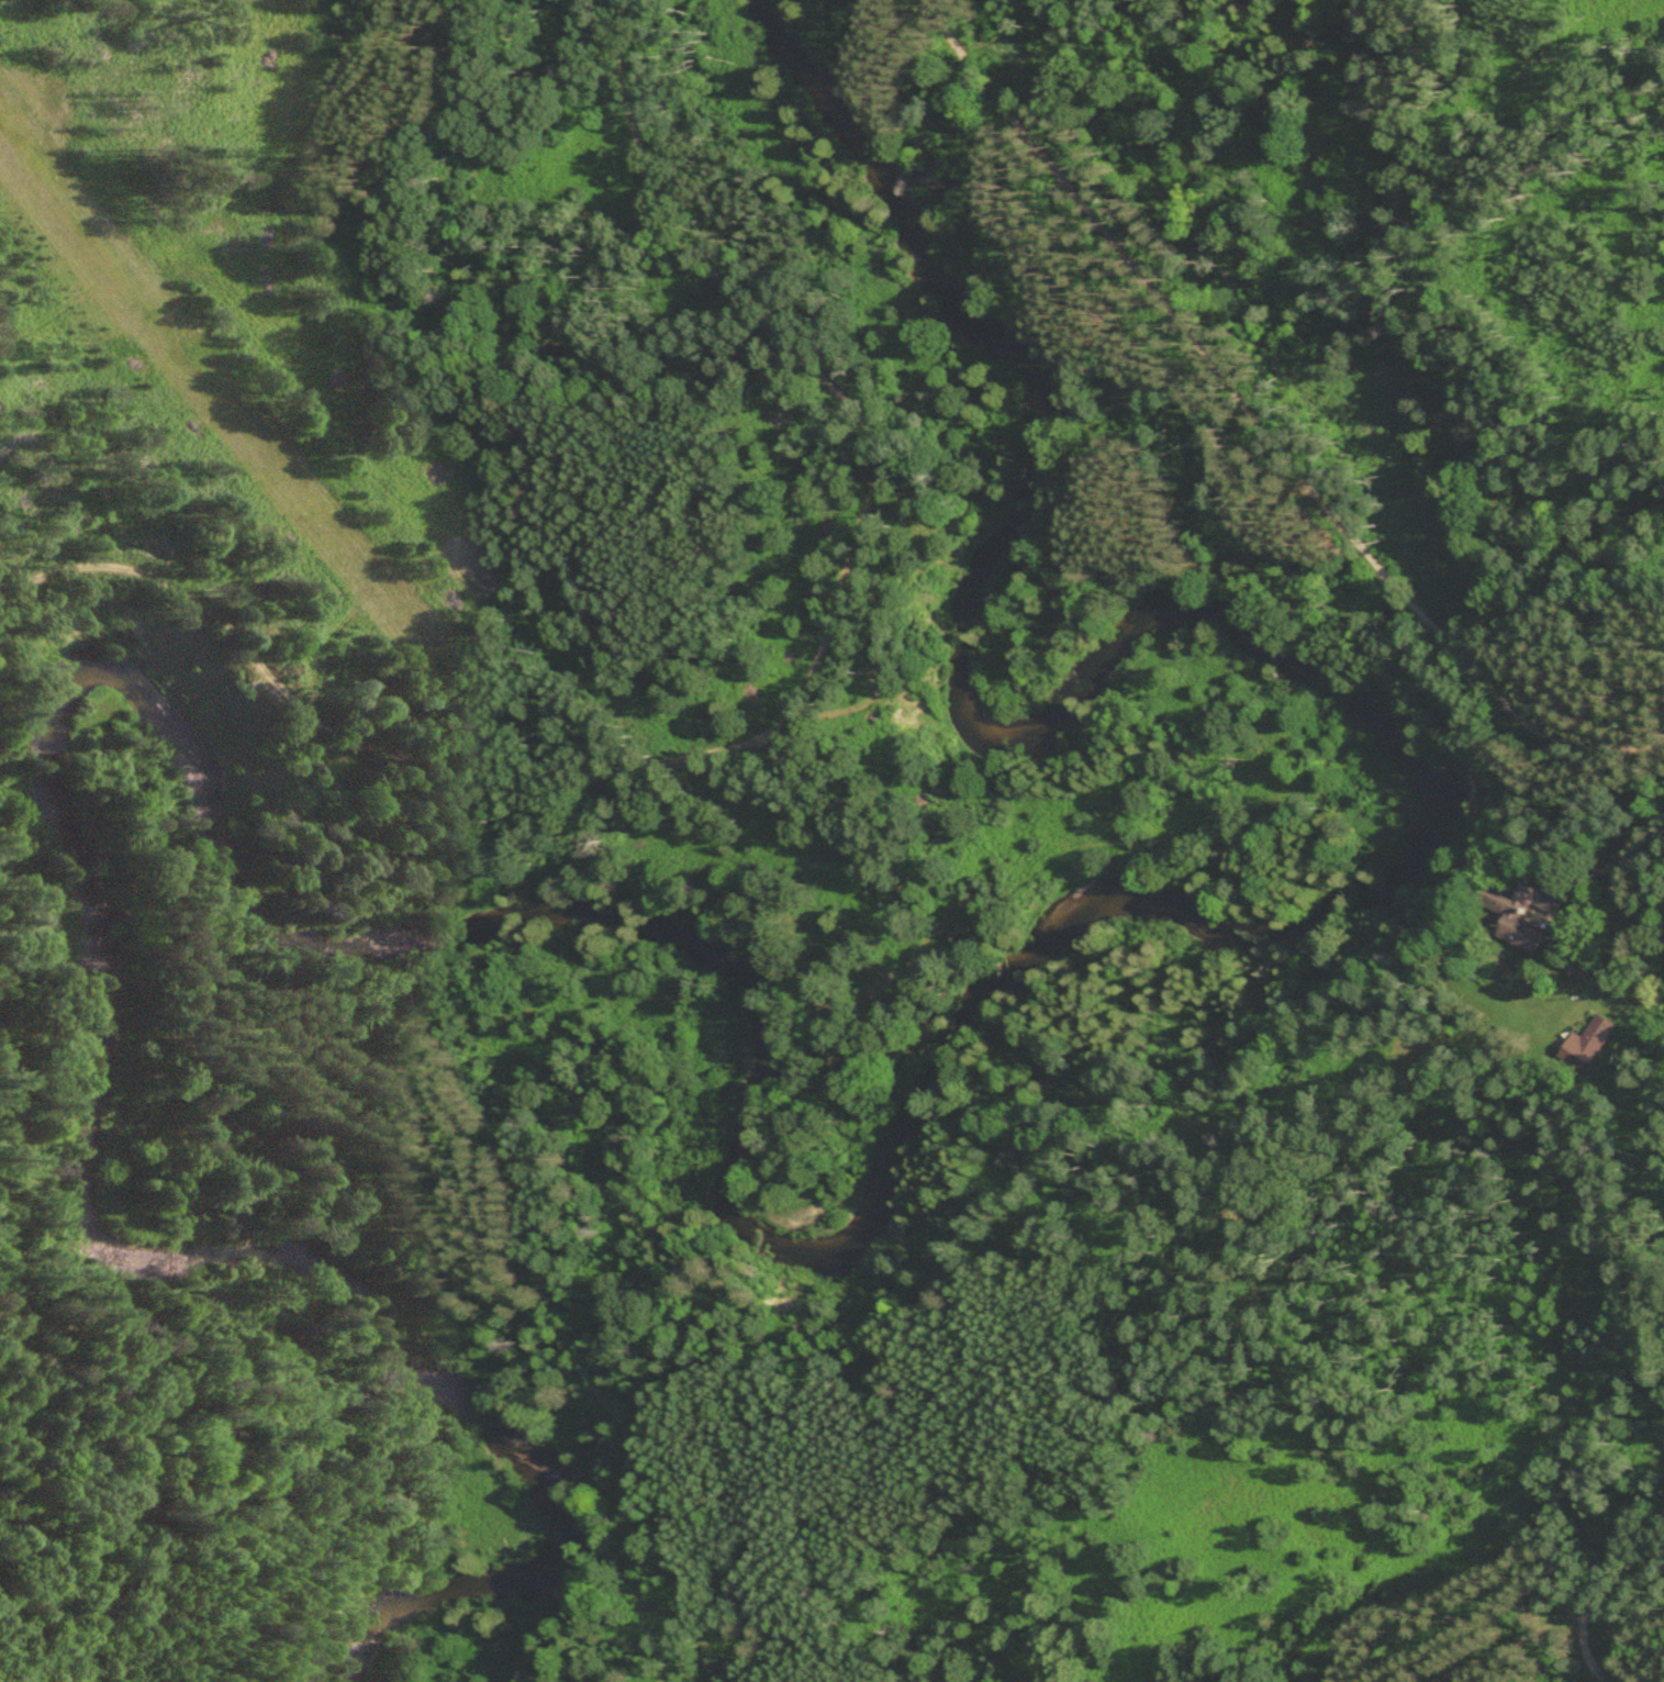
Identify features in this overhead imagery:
road: (1263, 422)
road: (771, 686)
road: (1602, 815)
building: (1533, 911)
building: (1654, 916)
building: (1586, 1047)
river: (746, 1140)
road: (1615, 1552)

